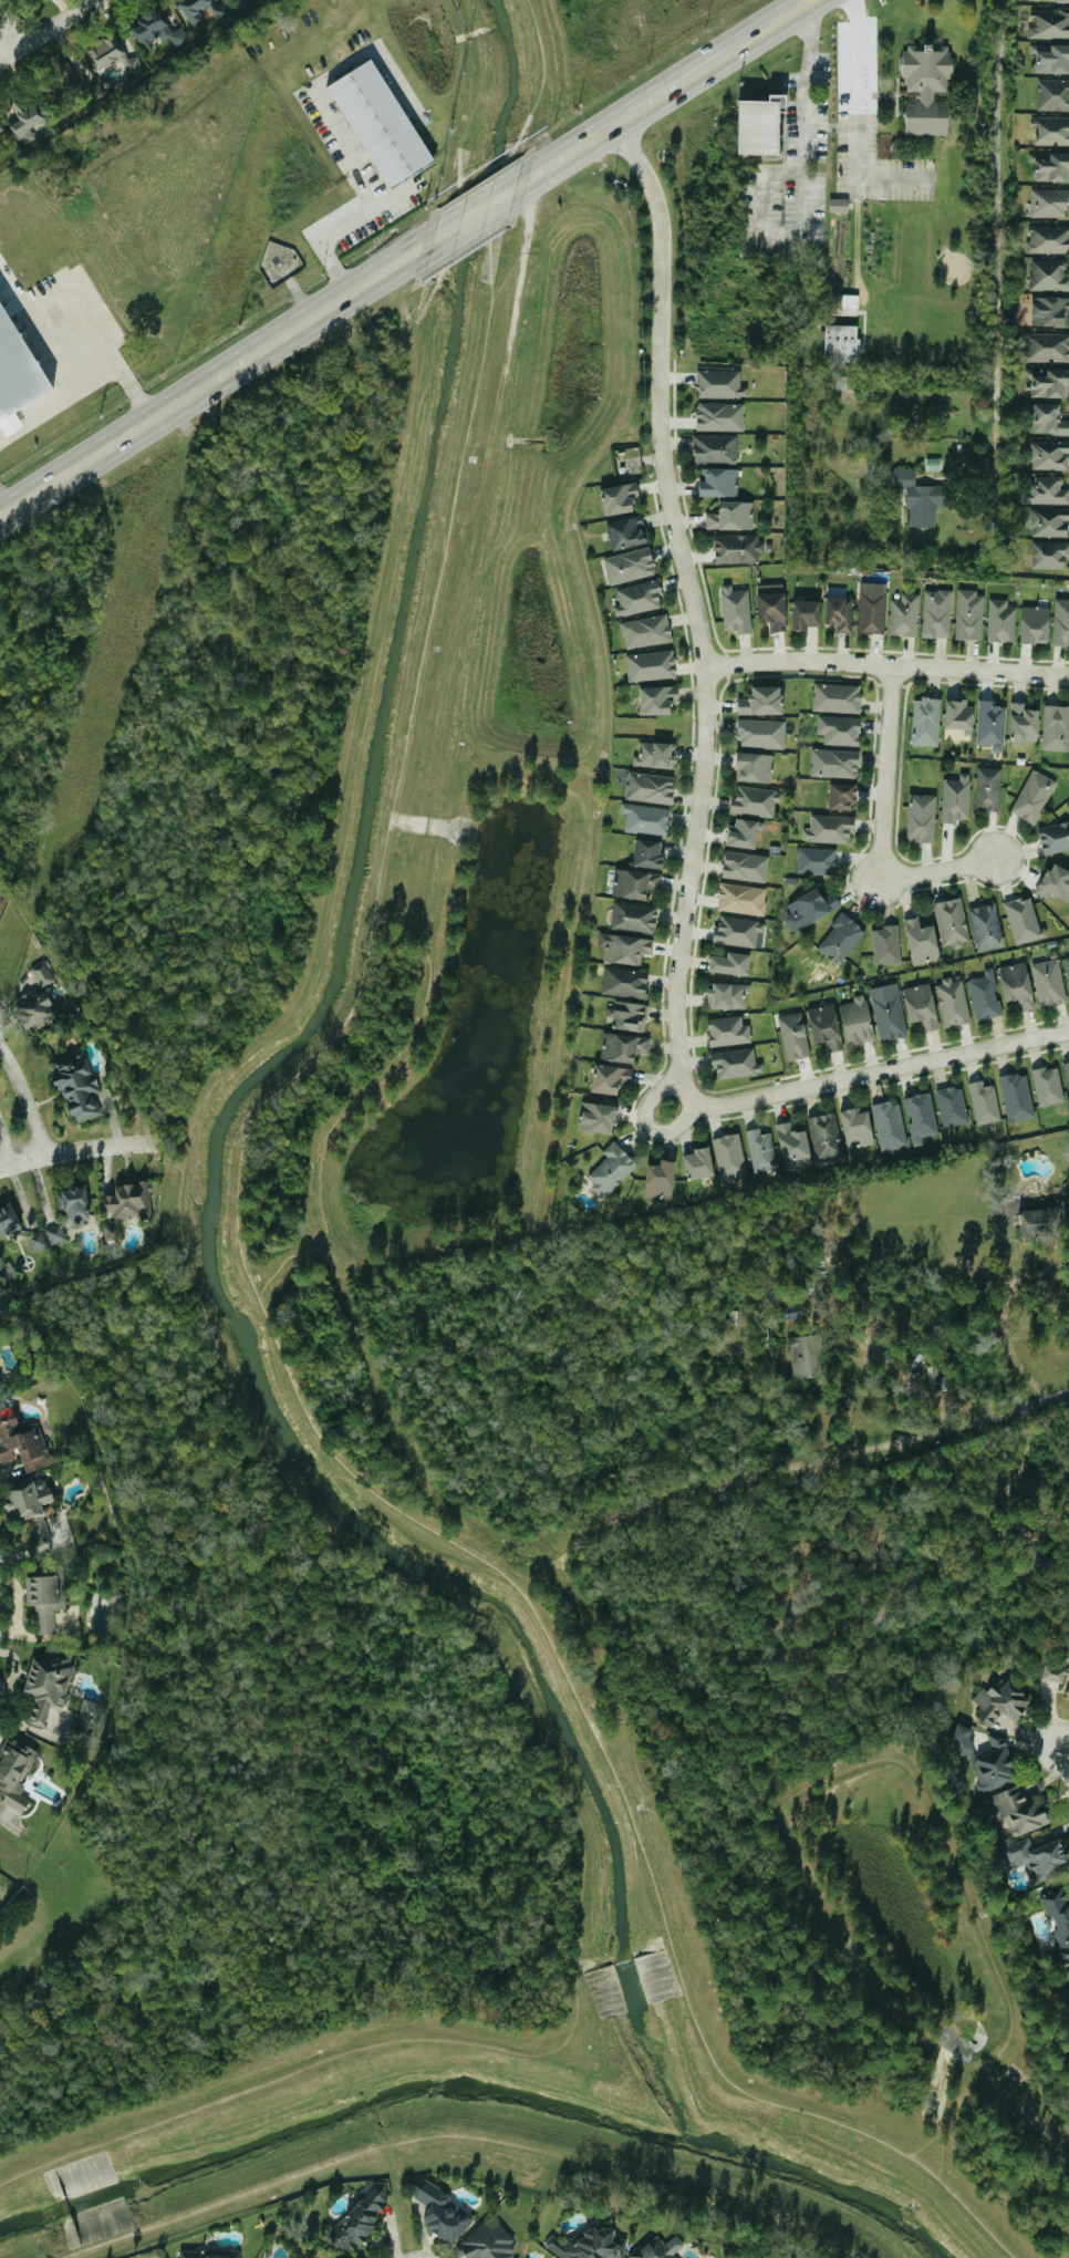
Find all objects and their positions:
building: (193, 14)
building: (1049, 23)
road: (10, 30)
building: (156, 30)
road: (49, 31)
road: (767, 31)
building: (111, 54)
building: (1052, 60)
road: (477, 71)
building: (925, 89)
road: (666, 95)
building: (1052, 95)
road: (864, 115)
building: (378, 123)
building: (25, 124)
building: (758, 125)
building: (1, 130)
building: (1051, 131)
road: (570, 154)
building: (1050, 166)
road: (781, 170)
road: (367, 200)
building: (1049, 203)
building: (838, 205)
road: (478, 210)
road: (995, 237)
building: (1048, 239)
building: (1049, 275)
building: (1049, 311)
road: (73, 334)
building: (1047, 346)
road: (216, 379)
building: (14, 380)
building: (842, 382)
building: (719, 384)
road: (84, 392)
building: (719, 416)
building: (1048, 420)
building: (714, 449)
building: (1049, 455)
building: (718, 483)
building: (1048, 490)
building: (917, 497)
building: (617, 498)
road: (6, 503)
building: (731, 516)
building: (1049, 522)
building: (626, 534)
building: (737, 548)
building: (1049, 555)
building: (627, 566)
building: (637, 599)
building: (771, 605)
building: (872, 608)
building: (735, 610)
road: (694, 613)
building: (839, 613)
building: (936, 613)
building: (805, 615)
building: (904, 615)
building: (969, 615)
building: (1001, 621)
building: (1060, 622)
building: (1034, 624)
building: (645, 631)
building: (651, 665)
road: (886, 665)
building: (837, 698)
building: (655, 700)
building: (761, 702)
building: (957, 719)
building: (925, 722)
building: (1023, 723)
building: (990, 725)
building: (1056, 728)
building: (839, 731)
building: (760, 733)
building: (655, 755)
building: (833, 764)
building: (753, 768)
road: (884, 775)
building: (650, 788)
building: (988, 788)
building: (841, 797)
building: (1034, 797)
building: (956, 799)
building: (755, 800)
building: (921, 818)
building: (645, 819)
building: (829, 829)
building: (741, 835)
building: (1055, 838)
building: (647, 854)
building: (816, 861)
building: (745, 867)
road: (936, 871)
building: (1055, 883)
building: (634, 884)
building: (741, 899)
building: (810, 908)
building: (633, 916)
building: (1023, 920)
building: (952, 923)
building: (985, 928)
building: (738, 931)
building: (840, 939)
building: (921, 942)
building: (886, 945)
building: (624, 947)
building: (729, 963)
building: (1067, 966)
building: (42, 973)
building: (624, 982)
building: (1048, 982)
building: (1016, 984)
building: (728, 994)
building: (984, 995)
building: (952, 1002)
building: (921, 1005)
building: (32, 1007)
building: (888, 1011)
building: (629, 1015)
building: (857, 1021)
building: (824, 1025)
building: (727, 1030)
building: (793, 1035)
building: (622, 1046)
building: (736, 1063)
building: (1067, 1074)
building: (609, 1077)
road: (850, 1077)
building: (1047, 1085)
building: (76, 1086)
road: (652, 1096)
building: (1017, 1096)
road: (24, 1100)
building: (984, 1101)
building: (952, 1106)
building: (921, 1116)
building: (596, 1117)
building: (890, 1125)
building: (855, 1127)
building: (824, 1135)
building: (792, 1146)
road: (6, 1148)
road: (76, 1148)
building: (760, 1150)
building: (729, 1156)
building: (697, 1162)
building: (611, 1169)
building: (660, 1180)
building: (124, 1204)
building: (8, 1219)
building: (1039, 1222)
building: (54, 1234)
building: (37, 1241)
road: (242, 1255)
building: (792, 1312)
road: (1003, 1315)
building: (806, 1356)
road: (236, 1389)
road: (973, 1419)
building: (21, 1440)
building: (30, 1504)
building: (116, 1596)
building: (45, 1598)
building: (1054, 1679)
building: (45, 1686)
building: (1068, 1692)
building: (1000, 1701)
building: (91, 1710)
road: (1063, 1758)
building: (993, 1767)
building: (14, 1771)
building: (1018, 1811)
building: (1038, 1857)
building: (1058, 1917)
building: (1067, 1999)
road: (458, 2133)
building: (442, 2214)
building: (359, 2217)
building: (486, 2243)
building: (658, 2249)
building: (210, 2255)

